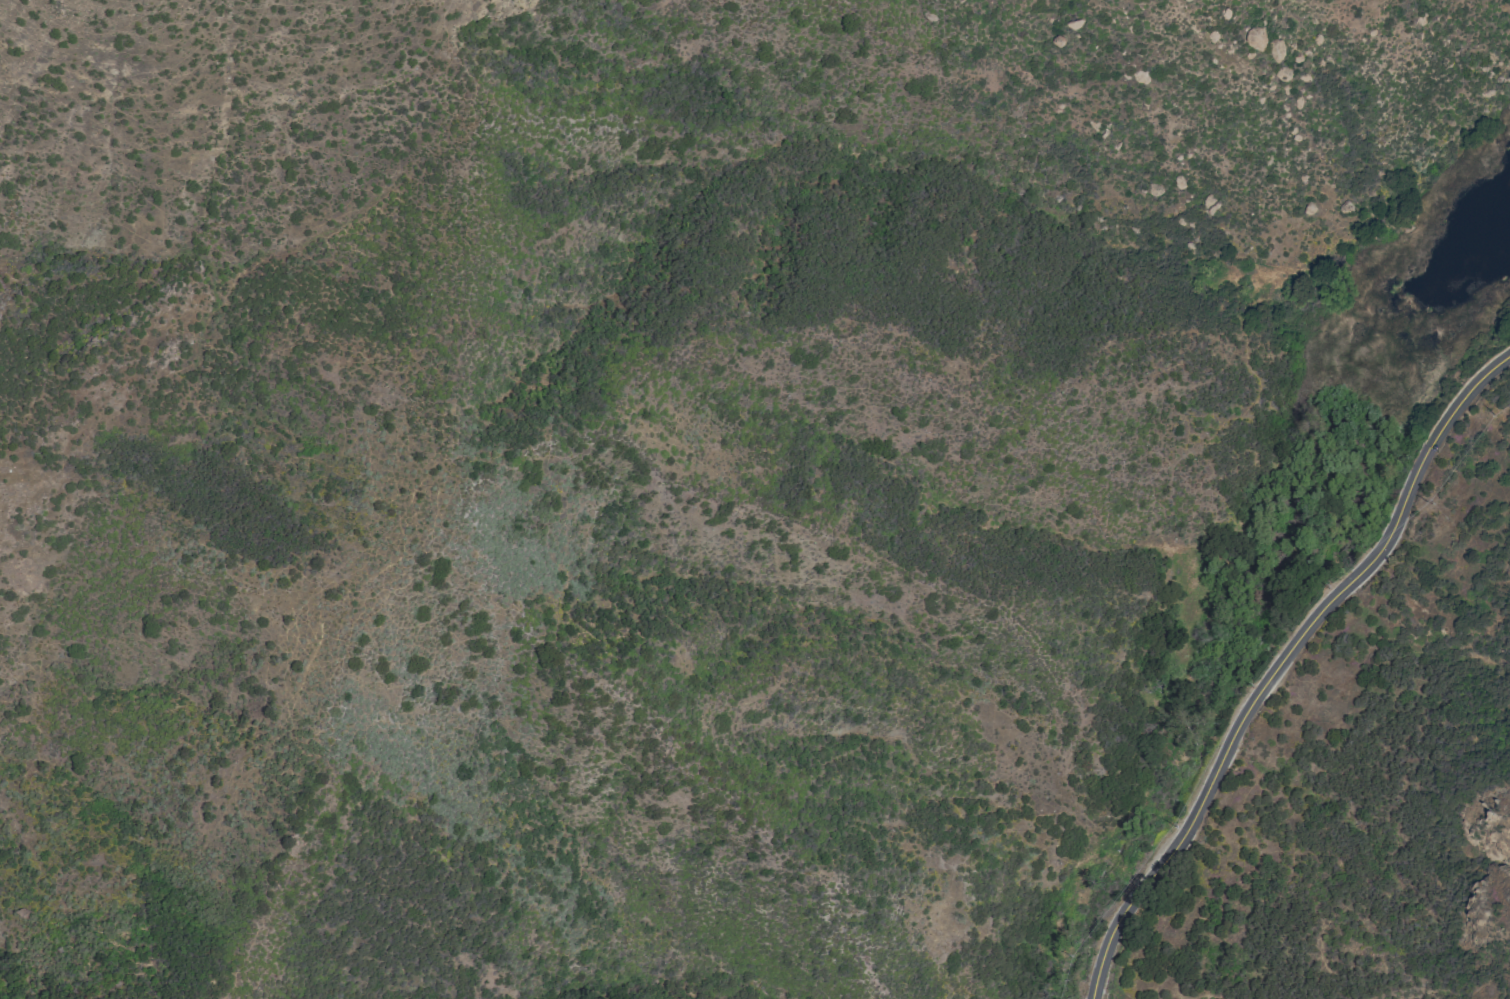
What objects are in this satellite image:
road: (1282, 665)

